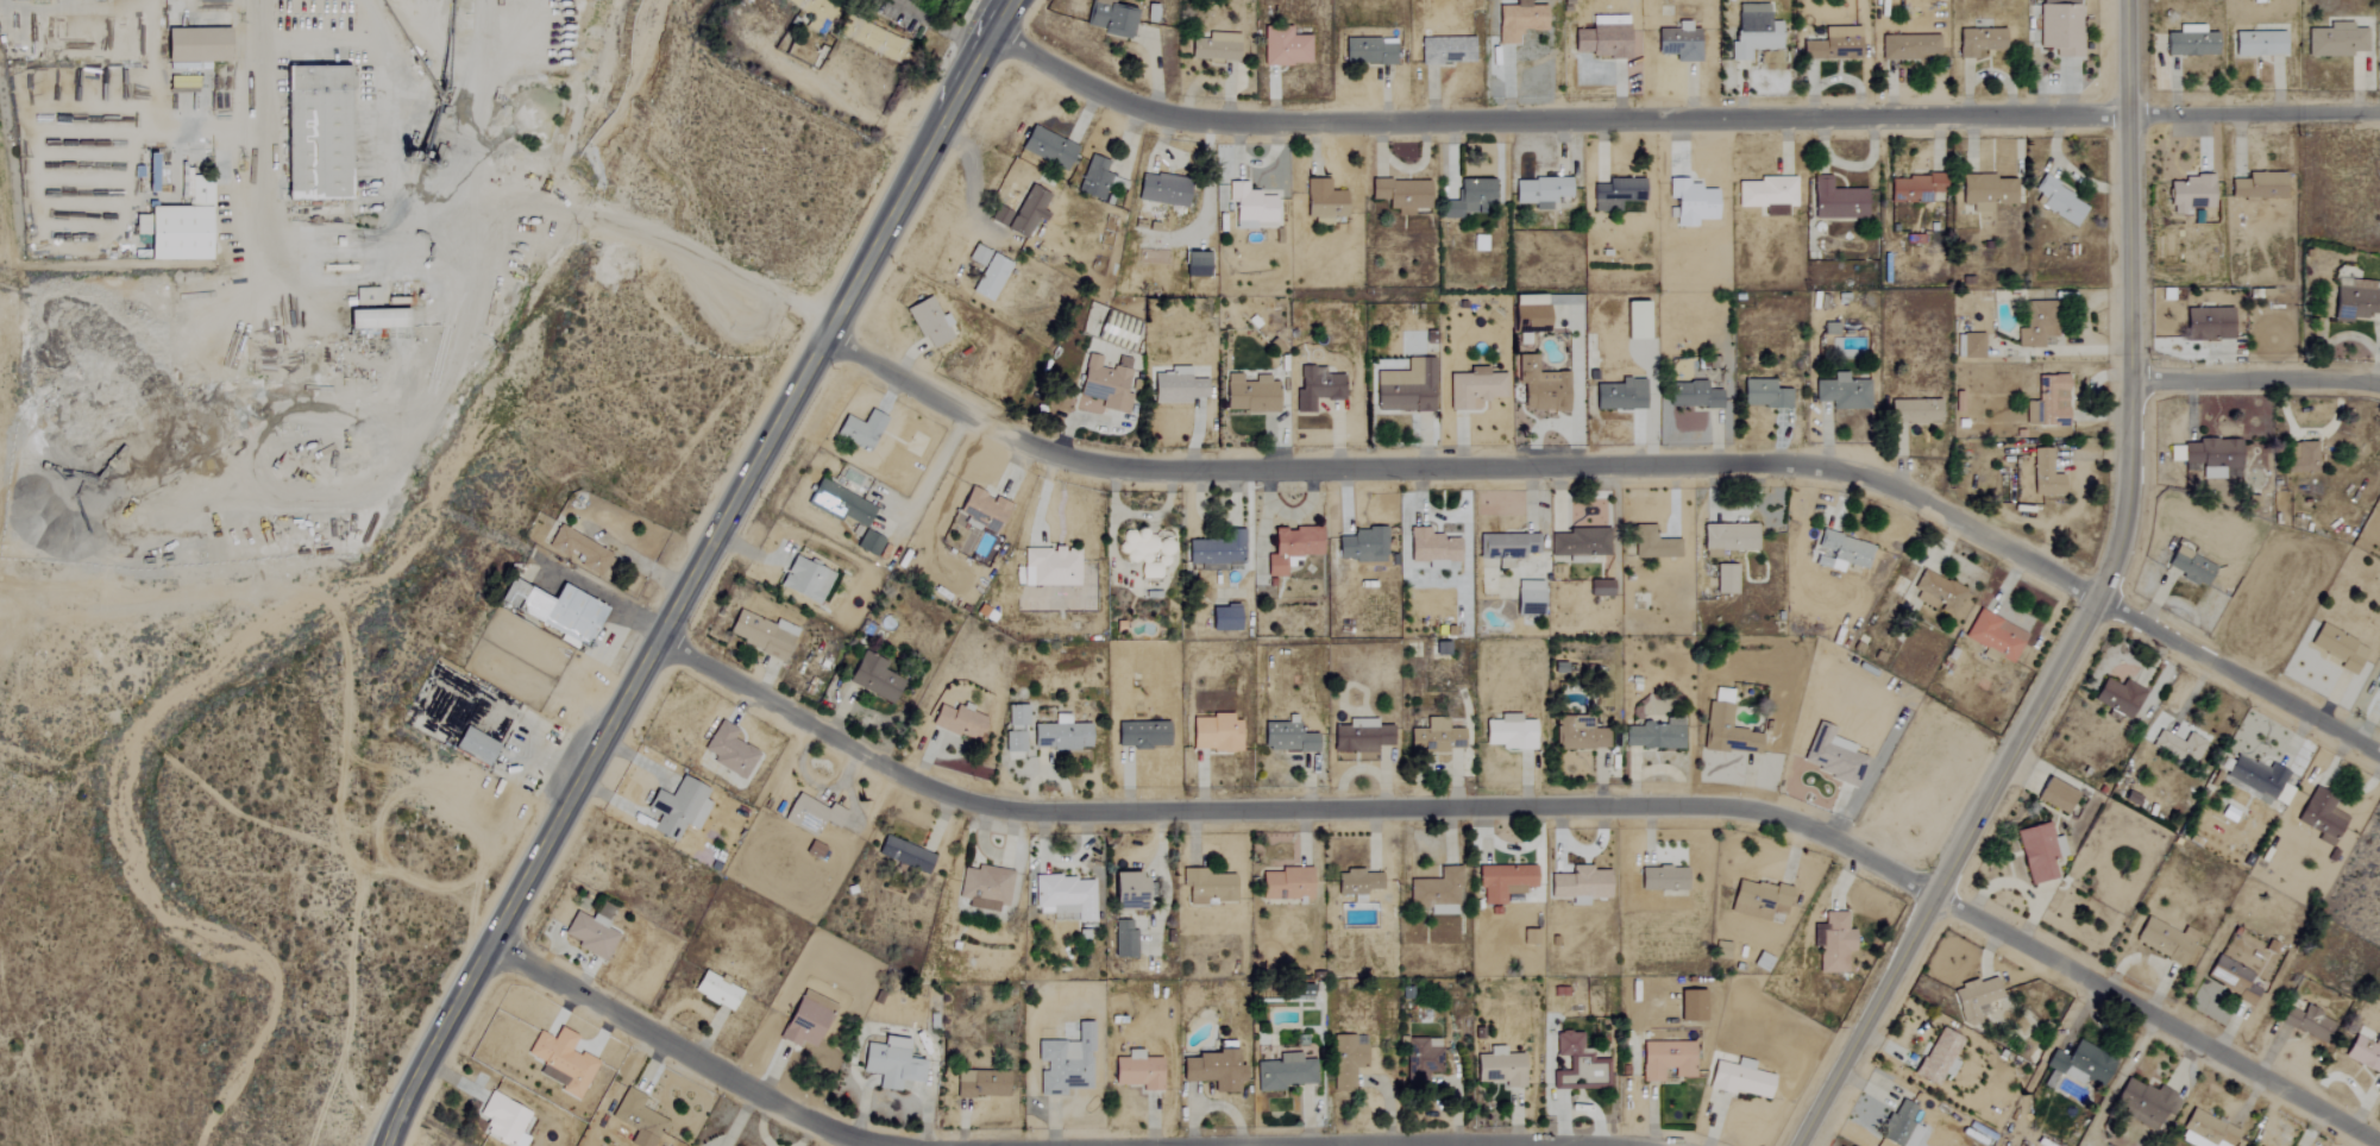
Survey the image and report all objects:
road: (1011, 0)
building: (815, 10)
building: (1109, 18)
building: (1518, 21)
road: (936, 25)
building: (2060, 27)
building: (1753, 30)
building: (1602, 37)
building: (1978, 40)
building: (2335, 40)
building: (879, 42)
building: (1678, 42)
building: (2190, 42)
building: (2257, 43)
building: (194, 44)
building: (1833, 44)
building: (1213, 45)
building: (1909, 46)
building: (1283, 48)
building: (1368, 50)
building: (1445, 50)
road: (488, 101)
road: (1673, 120)
road: (258, 132)
building: (314, 132)
building: (1047, 147)
building: (150, 172)
building: (1094, 177)
building: (2263, 184)
building: (1914, 188)
building: (1162, 189)
building: (1540, 191)
building: (1986, 191)
building: (2190, 191)
building: (1616, 193)
building: (1400, 194)
building: (1767, 195)
building: (1469, 197)
building: (1836, 201)
building: (2058, 201)
building: (1323, 202)
building: (1690, 202)
building: (1250, 207)
building: (1026, 210)
building: (1000, 216)
building: (177, 226)
road: (665, 241)
building: (978, 254)
building: (1195, 264)
road: (383, 277)
building: (990, 277)
building: (364, 296)
building: (2355, 301)
building: (1528, 310)
building: (373, 319)
building: (1635, 320)
building: (929, 322)
building: (2212, 323)
building: (2037, 325)
building: (1972, 346)
road: (2257, 380)
building: (1105, 383)
building: (1176, 386)
building: (1540, 386)
building: (1315, 388)
building: (1406, 388)
building: (1474, 388)
building: (1841, 392)
building: (1249, 393)
building: (1620, 395)
building: (1695, 395)
building: (1764, 395)
building: (2049, 404)
building: (1915, 411)
building: (860, 429)
building: (2213, 456)
building: (2300, 456)
road: (1627, 467)
building: (2045, 474)
road: (925, 478)
building: (2028, 490)
building: (839, 504)
building: (982, 509)
building: (1727, 539)
building: (868, 542)
building: (1580, 543)
building: (1652, 543)
building: (1362, 546)
building: (1506, 547)
building: (1291, 548)
building: (1431, 548)
building: (577, 550)
building: (1141, 552)
building: (1214, 552)
building: (1840, 552)
building: (1049, 566)
building: (2191, 567)
road: (702, 574)
building: (804, 579)
building: (1725, 579)
building: (1600, 588)
building: (1936, 593)
building: (1528, 598)
road: (608, 600)
road: (2097, 609)
building: (561, 612)
building: (1223, 618)
building: (760, 634)
building: (1995, 637)
building: (2338, 648)
building: (872, 678)
building: (2379, 688)
building: (2118, 697)
building: (458, 712)
building: (1015, 714)
building: (956, 722)
building: (1726, 728)
building: (1509, 732)
building: (1214, 733)
building: (1577, 733)
building: (1060, 735)
building: (1653, 735)
building: (1361, 736)
building: (1286, 737)
building: (1436, 737)
building: (1012, 742)
building: (473, 745)
building: (2179, 747)
building: (729, 751)
building: (1834, 757)
building: (2256, 779)
building: (2055, 795)
building: (677, 808)
road: (1543, 810)
building: (810, 814)
building: (2321, 817)
building: (814, 850)
building: (2039, 851)
building: (904, 855)
building: (1662, 879)
building: (1502, 882)
building: (1357, 883)
building: (1285, 884)
building: (1580, 884)
building: (985, 887)
building: (1205, 887)
building: (1128, 892)
building: (1436, 892)
building: (1063, 896)
building: (1758, 900)
building: (589, 936)
building: (1528, 937)
building: (1123, 939)
building: (2165, 940)
building: (1832, 943)
building: (2231, 978)
building: (715, 991)
building: (1974, 1000)
building: (805, 1020)
building: (2307, 1024)
building: (2363, 1053)
road: (689, 1056)
building: (1939, 1057)
building: (1665, 1060)
building: (560, 1062)
building: (1346, 1062)
building: (1420, 1062)
building: (890, 1063)
building: (1063, 1063)
building: (2080, 1064)
building: (1577, 1065)
building: (1500, 1068)
building: (1212, 1070)
building: (1286, 1071)
building: (1137, 1072)
building: (1739, 1079)
building: (981, 1084)
building: (2146, 1104)
building: (636, 1119)
building: (502, 1120)
road: (736, 1122)
building: (1899, 1126)
building: (2205, 1132)

